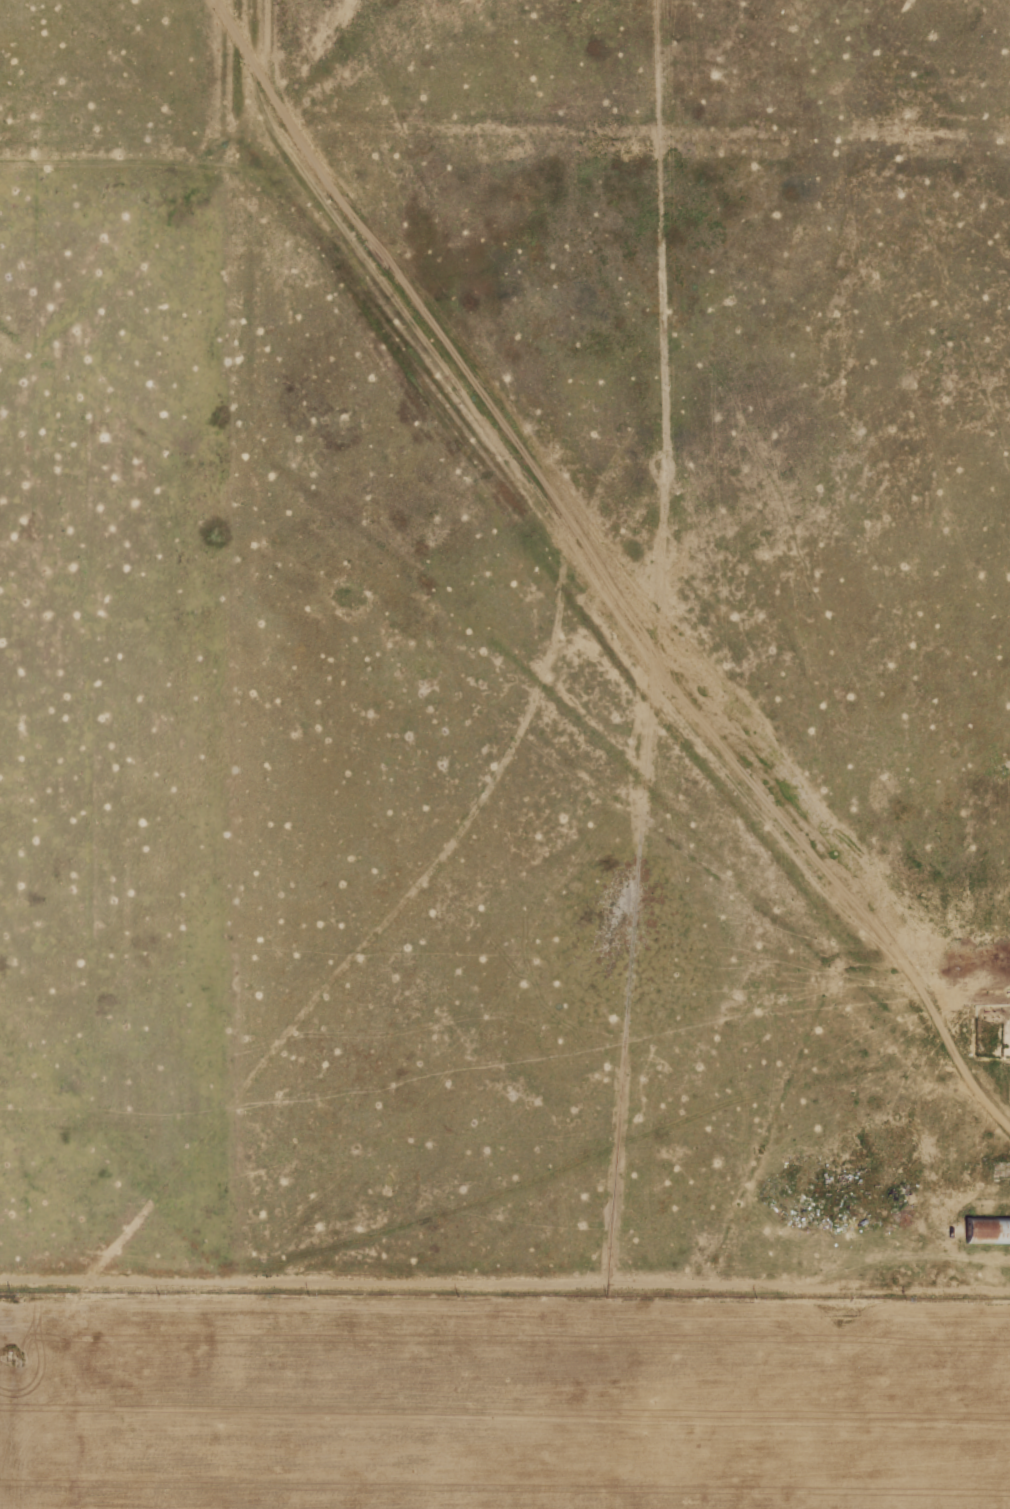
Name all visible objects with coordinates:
building: (1009, 1227)
building: (982, 1229)

